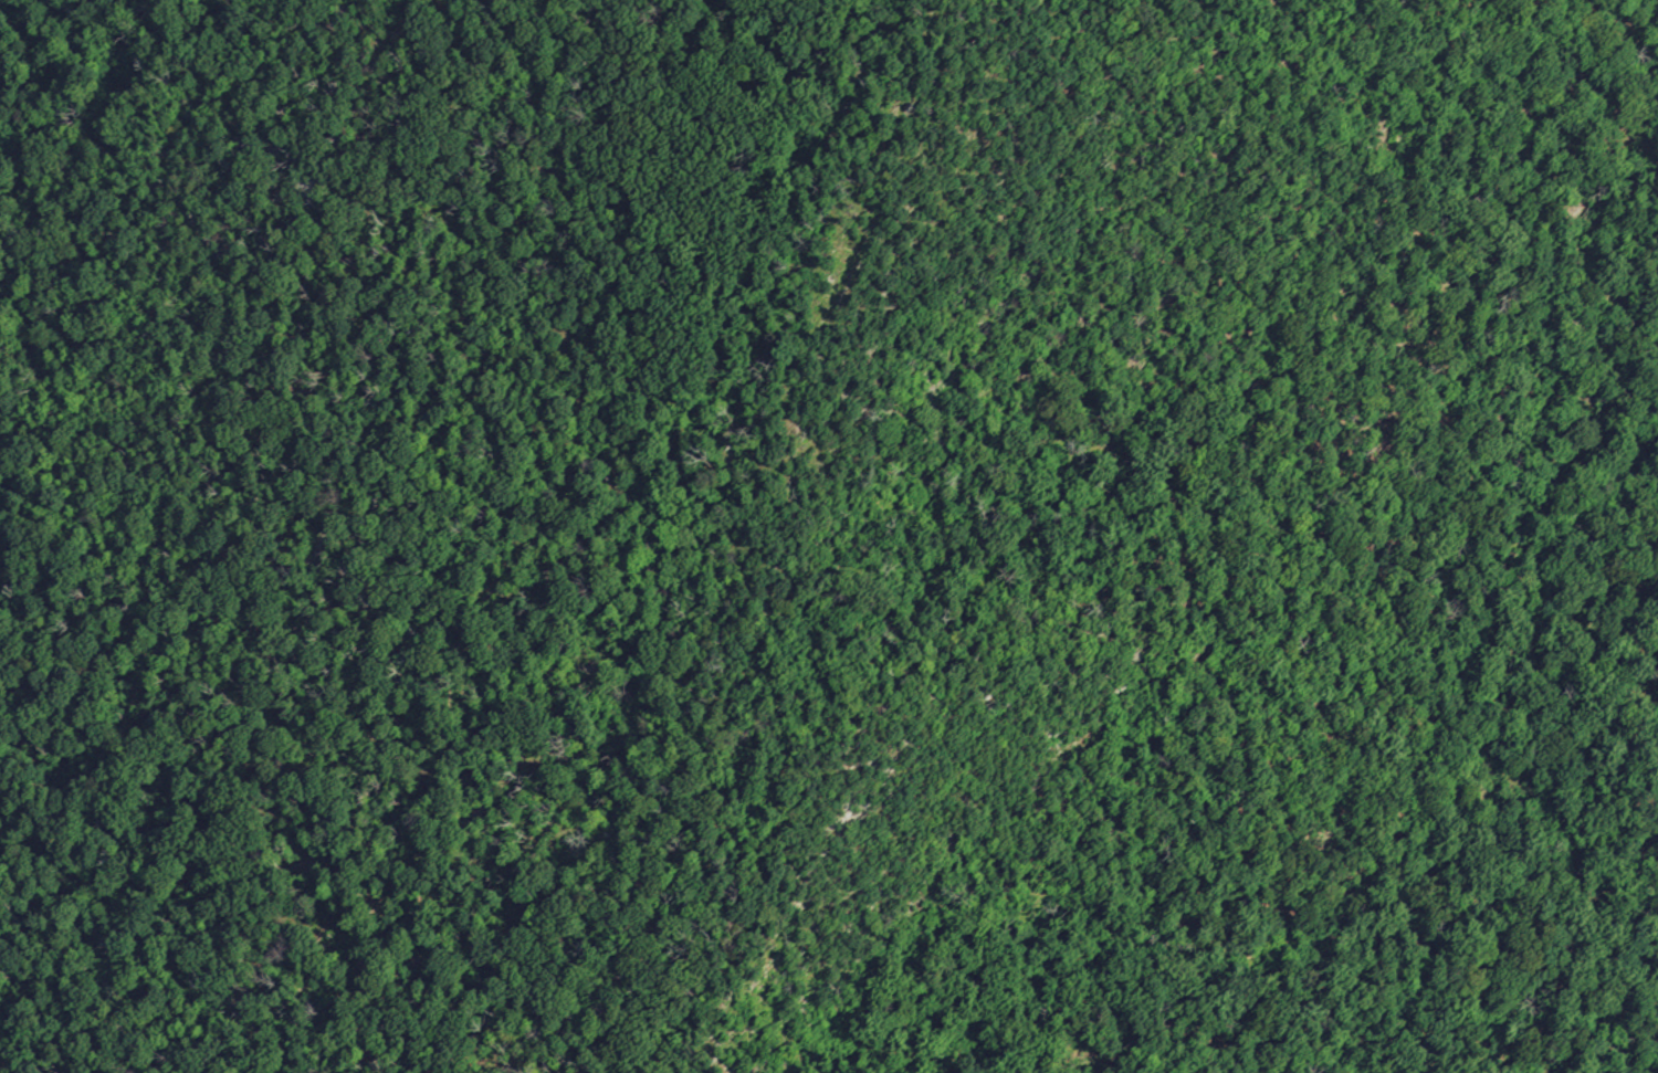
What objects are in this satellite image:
road: (763, 535)
road: (506, 571)
road: (1259, 583)
road: (183, 863)

